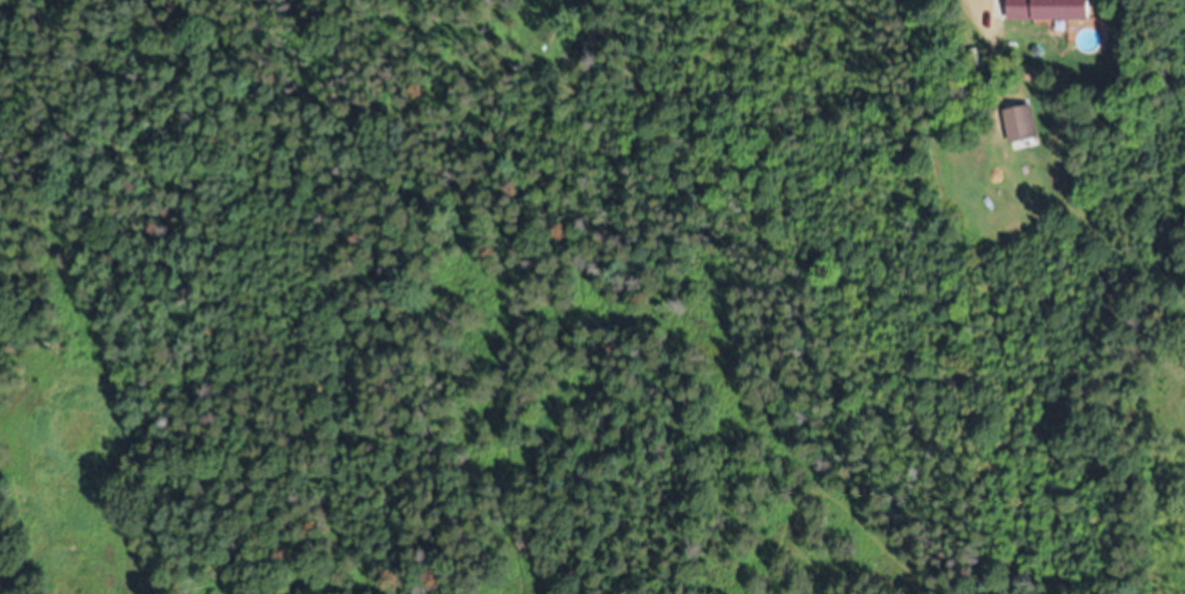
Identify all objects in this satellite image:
building: (1049, 10)
building: (1019, 123)

